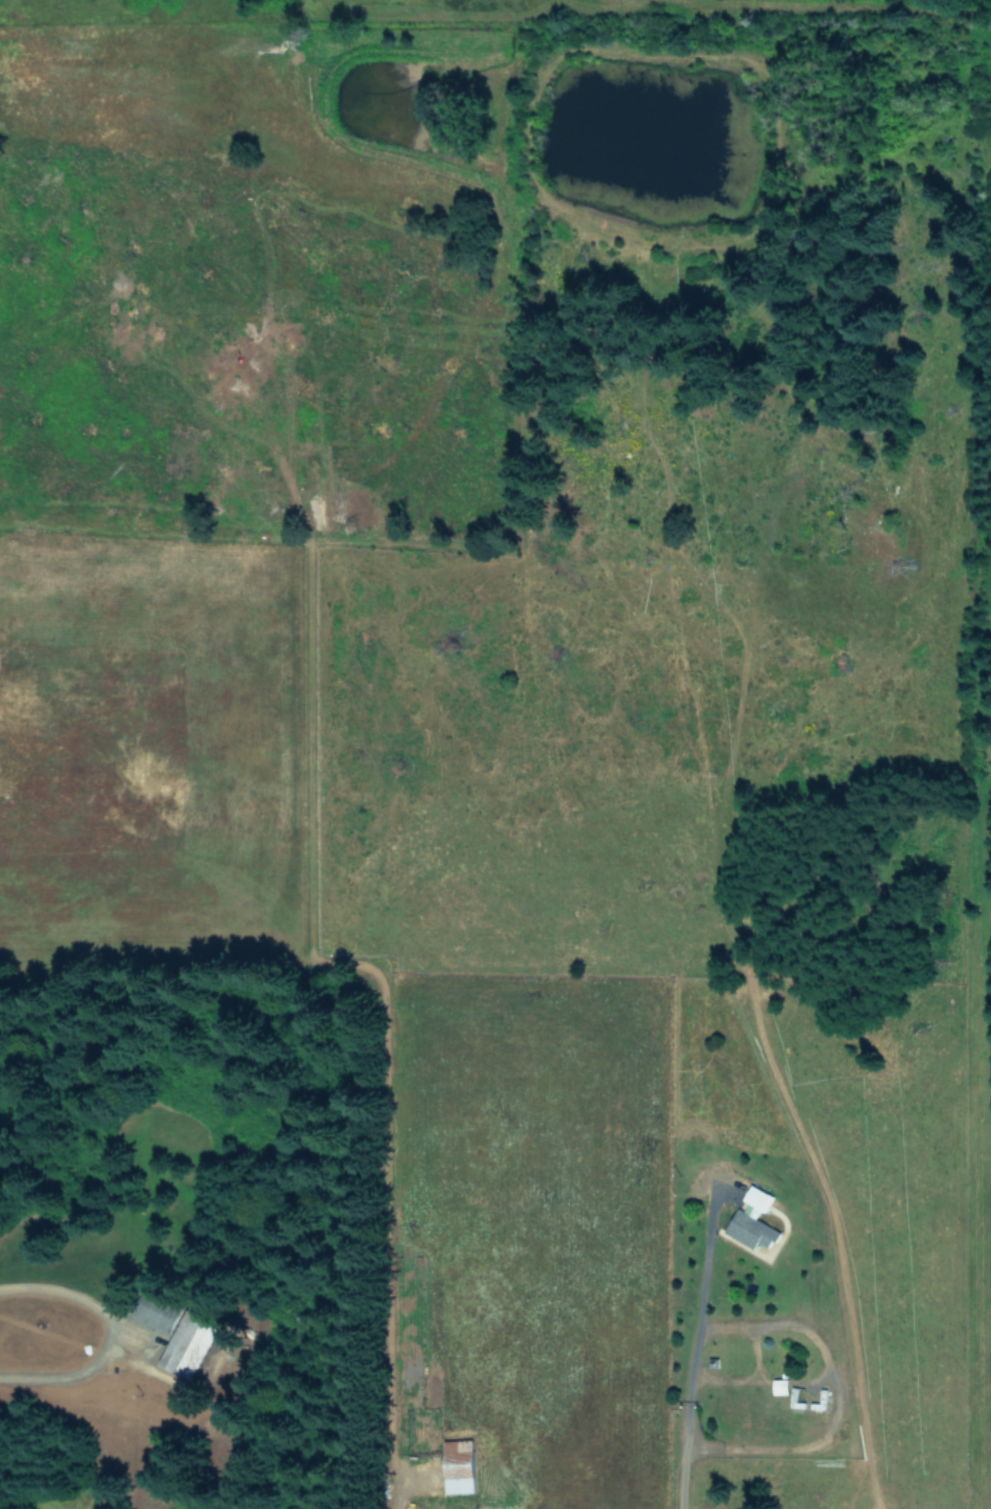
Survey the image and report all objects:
crop: (139, 758)
building: (751, 1219)
building: (160, 1315)
road: (812, 1332)
building: (187, 1344)
road: (754, 1355)
road: (687, 1361)
building: (779, 1385)
road: (788, 1449)
building: (457, 1465)

